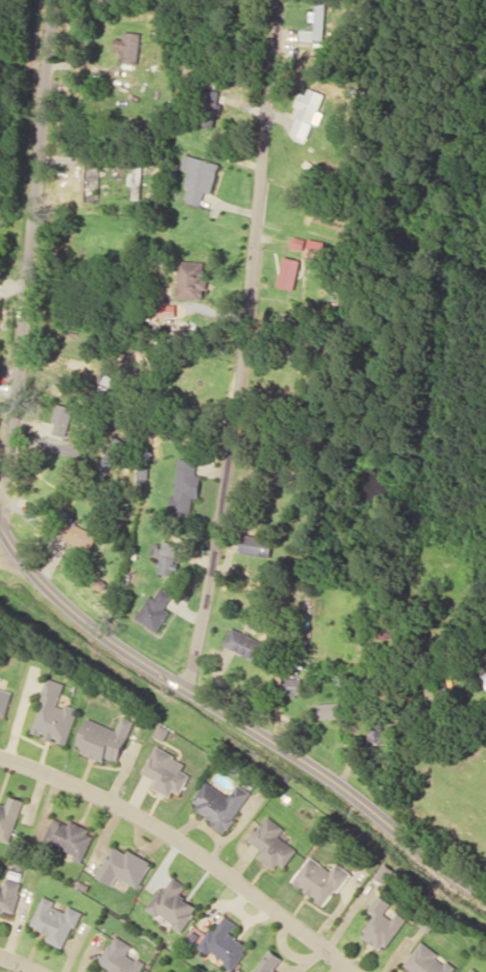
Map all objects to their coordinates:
building: (317, 22)
building: (129, 45)
building: (310, 104)
building: (209, 107)
building: (199, 177)
building: (315, 247)
road: (27, 264)
building: (289, 272)
building: (192, 278)
building: (0, 307)
road: (241, 346)
building: (61, 419)
building: (108, 459)
building: (186, 485)
building: (78, 533)
building: (255, 544)
building: (166, 555)
building: (155, 609)
building: (244, 643)
building: (484, 678)
building: (292, 685)
building: (4, 700)
building: (328, 710)
building: (54, 714)
road: (233, 716)
building: (161, 731)
building: (104, 738)
building: (166, 771)
building: (220, 803)
building: (9, 817)
building: (69, 837)
building: (272, 843)
road: (188, 847)
building: (124, 866)
building: (384, 872)
building: (320, 879)
building: (9, 895)
building: (174, 903)
building: (56, 920)
building: (382, 922)
building: (225, 941)
building: (121, 957)
road: (22, 961)
building: (427, 961)
building: (269, 962)
building: (474, 970)

